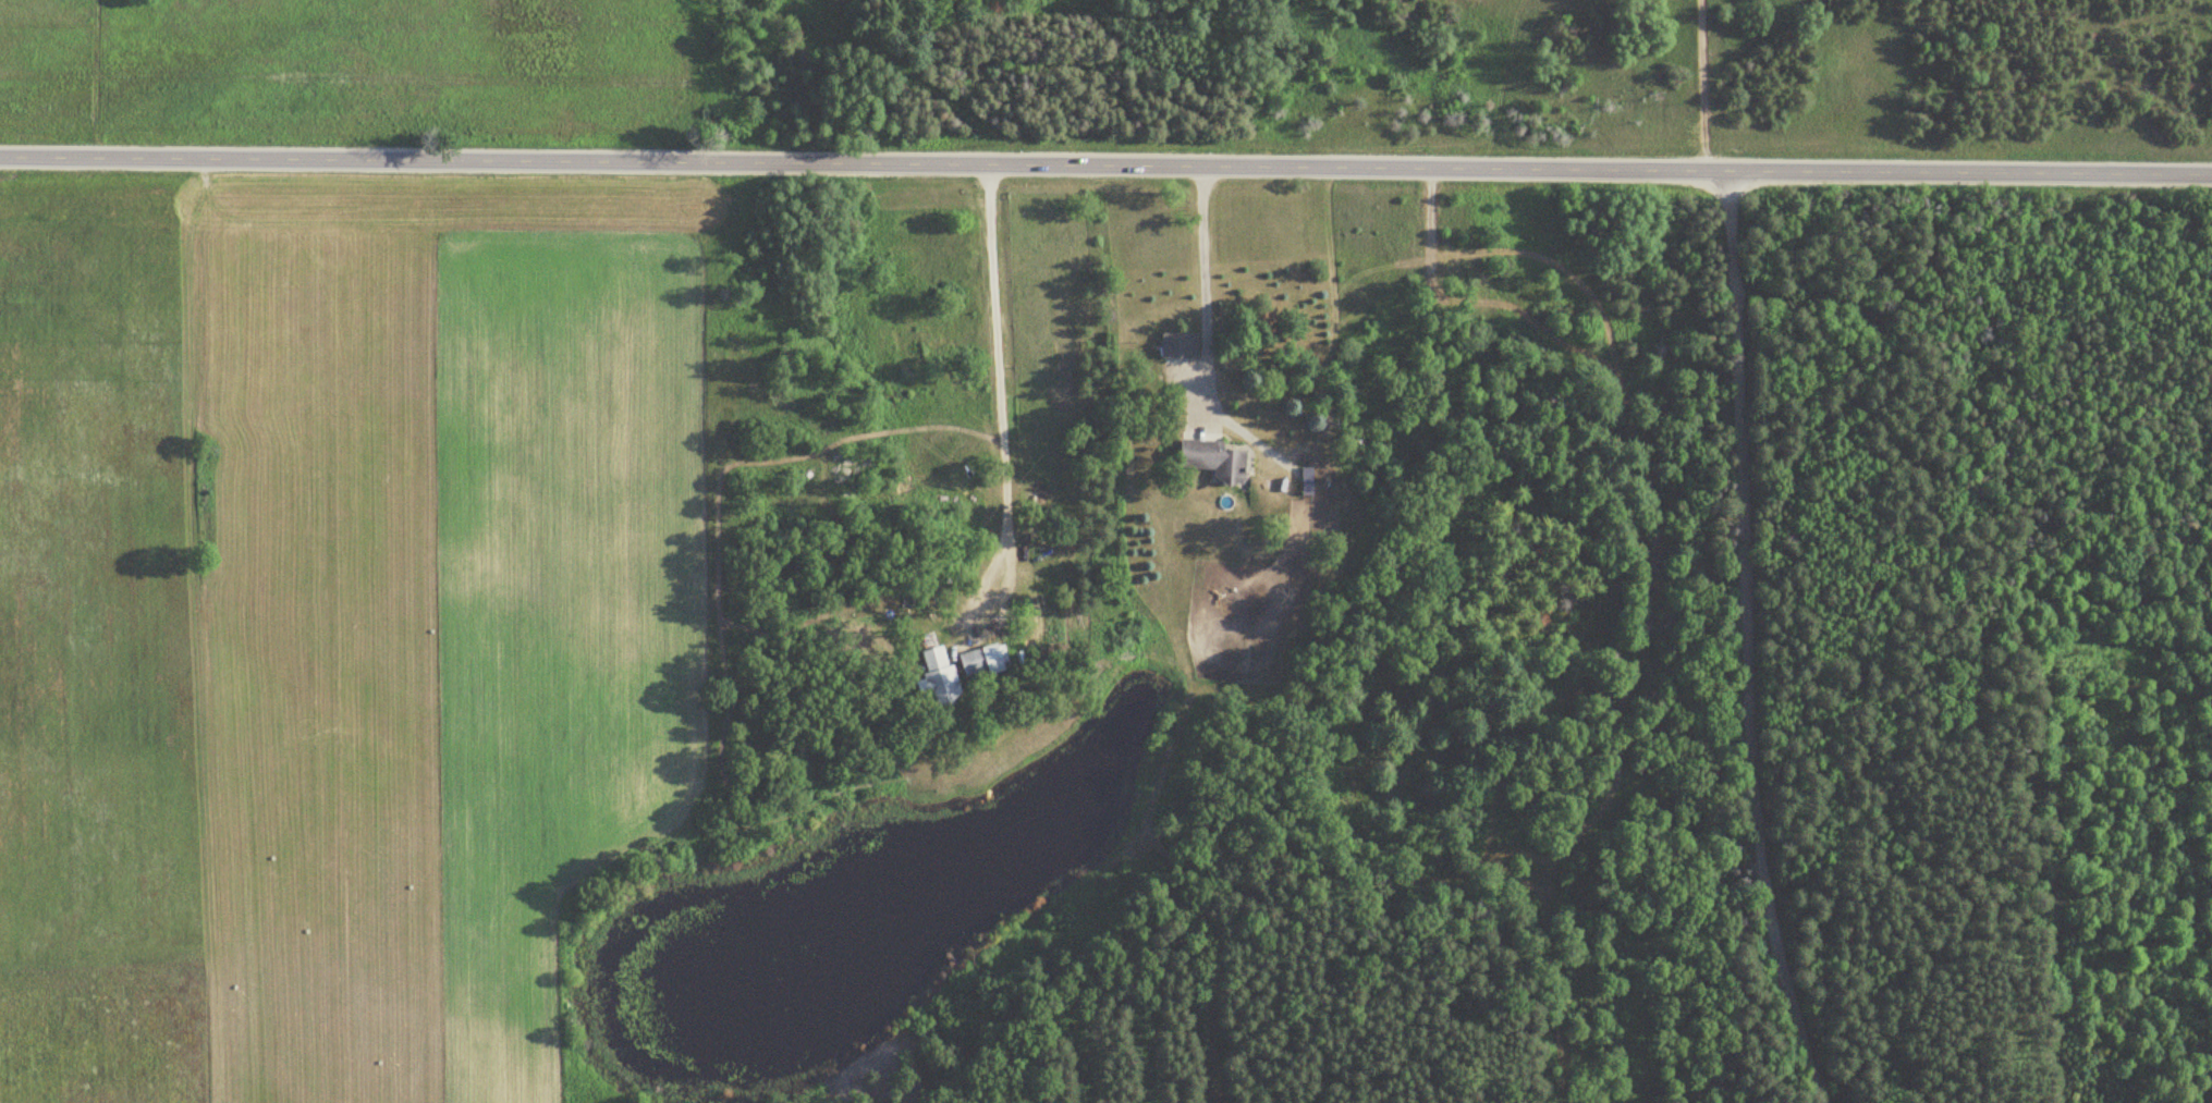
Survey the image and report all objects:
road: (1105, 162)
building: (1183, 345)
road: (1738, 451)
building: (1207, 459)
crop: (331, 630)
park: (1970, 637)
building: (976, 663)
building: (934, 675)
road: (1776, 920)

